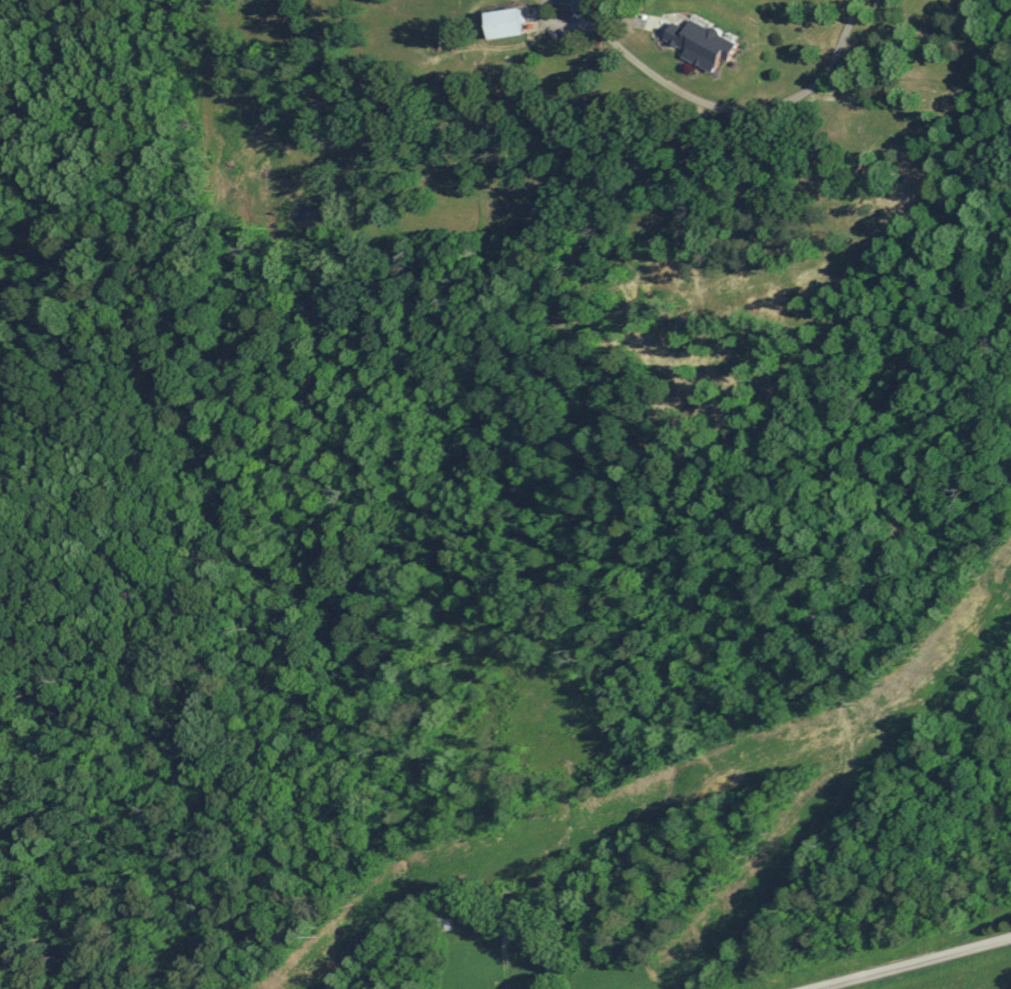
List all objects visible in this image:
building: (498, 23)
building: (694, 43)
road: (903, 962)

